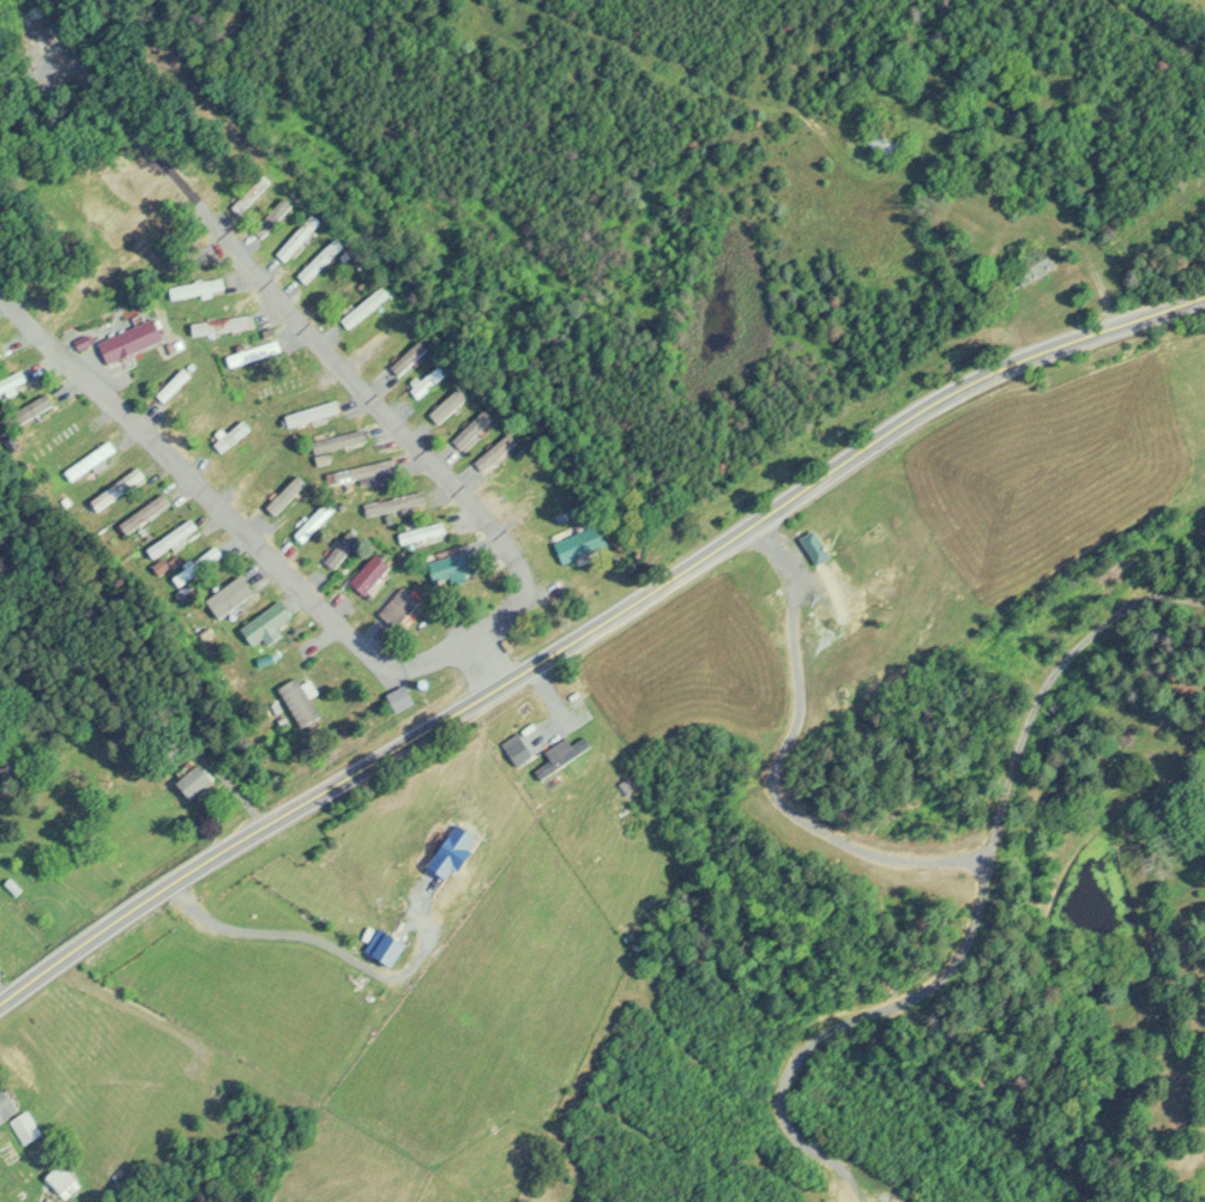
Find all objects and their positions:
building: (888, 143)
building: (252, 191)
building: (272, 215)
building: (299, 236)
building: (319, 259)
building: (1037, 267)
building: (366, 307)
building: (223, 325)
building: (133, 340)
building: (253, 351)
building: (409, 357)
road: (342, 368)
building: (11, 380)
building: (428, 380)
building: (175, 382)
building: (283, 385)
building: (313, 413)
building: (475, 429)
building: (71, 430)
building: (233, 435)
building: (338, 443)
building: (496, 452)
building: (91, 460)
building: (258, 464)
building: (363, 471)
building: (118, 488)
building: (285, 494)
building: (396, 505)
building: (144, 512)
road: (223, 512)
building: (314, 521)
building: (422, 533)
building: (173, 538)
building: (585, 543)
building: (341, 549)
building: (198, 566)
building: (450, 568)
building: (370, 574)
building: (237, 587)
building: (399, 606)
building: (263, 626)
road: (594, 633)
road: (489, 664)
building: (404, 699)
building: (302, 701)
building: (522, 750)
building: (565, 754)
building: (197, 780)
road: (326, 946)
road: (5, 993)
building: (7, 1103)
building: (28, 1127)
building: (62, 1177)

